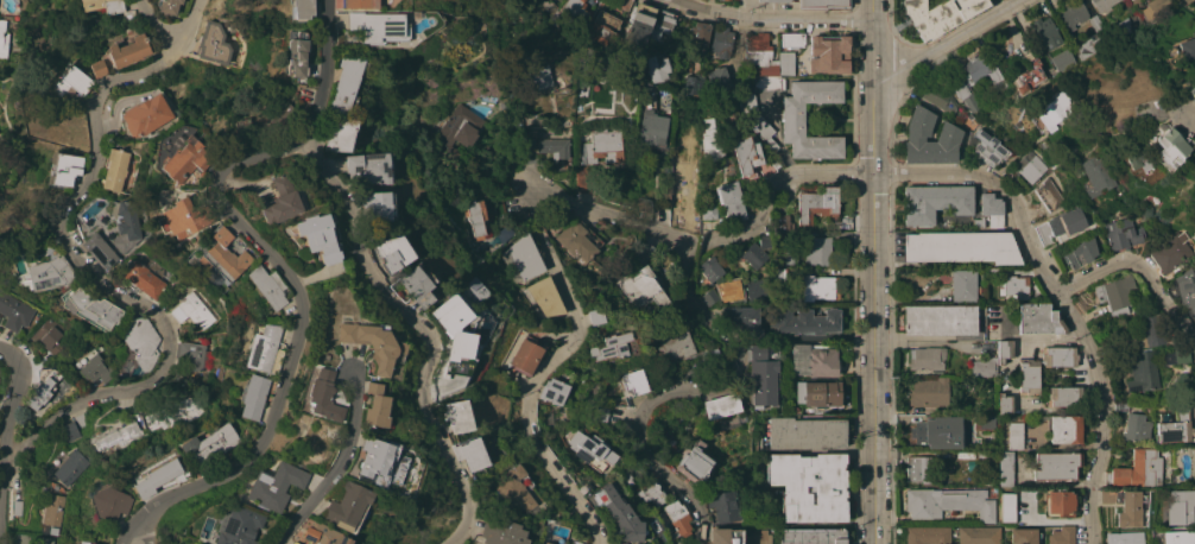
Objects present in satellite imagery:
building: (779, 0)
building: (1137, 1)
building: (1184, 1)
building: (359, 4)
building: (821, 4)
building: (103, 5)
building: (1104, 5)
road: (995, 6)
building: (169, 7)
building: (1156, 7)
building: (298, 10)
building: (574, 11)
building: (1073, 13)
building: (940, 14)
road: (771, 15)
building: (1096, 23)
building: (607, 24)
building: (639, 24)
road: (156, 25)
building: (375, 26)
building: (663, 27)
building: (1121, 29)
building: (1048, 32)
building: (4, 37)
building: (701, 37)
building: (792, 39)
building: (722, 40)
road: (946, 42)
building: (214, 43)
building: (1090, 45)
building: (128, 49)
building: (1187, 49)
building: (829, 53)
building: (296, 55)
building: (760, 55)
building: (1063, 62)
building: (785, 63)
building: (656, 67)
building: (99, 68)
building: (984, 70)
building: (537, 74)
building: (1030, 74)
building: (719, 80)
building: (70, 82)
building: (769, 82)
building: (343, 83)
building: (693, 83)
building: (646, 90)
building: (962, 90)
building: (1191, 90)
building: (941, 99)
building: (1143, 109)
building: (1050, 112)
building: (146, 115)
building: (755, 118)
building: (793, 119)
road: (1189, 122)
building: (263, 126)
building: (652, 131)
building: (456, 132)
building: (949, 133)
building: (337, 134)
building: (710, 139)
building: (601, 145)
building: (1168, 146)
building: (988, 147)
building: (555, 150)
building: (529, 156)
building: (751, 157)
building: (1132, 157)
building: (185, 159)
building: (368, 166)
building: (1029, 166)
building: (63, 167)
building: (115, 169)
building: (1094, 176)
building: (583, 178)
road: (776, 189)
building: (1048, 194)
building: (280, 201)
building: (731, 201)
building: (935, 202)
building: (519, 203)
building: (645, 203)
building: (378, 204)
building: (817, 204)
building: (992, 209)
building: (708, 210)
building: (182, 217)
building: (476, 217)
building: (782, 221)
building: (978, 222)
building: (125, 224)
building: (1060, 226)
building: (1123, 234)
building: (320, 236)
building: (578, 241)
building: (960, 247)
building: (99, 249)
building: (820, 249)
building: (643, 251)
building: (392, 252)
building: (1172, 252)
building: (1079, 254)
building: (223, 257)
building: (754, 257)
road: (273, 259)
building: (521, 259)
road: (81, 267)
road: (1139, 267)
building: (710, 270)
building: (992, 271)
road: (874, 272)
building: (48, 273)
building: (143, 279)
road: (569, 279)
building: (417, 284)
building: (963, 285)
building: (270, 286)
building: (820, 286)
building: (1016, 286)
building: (641, 287)
building: (729, 289)
building: (759, 290)
building: (1183, 291)
building: (1115, 295)
building: (545, 297)
building: (709, 297)
road: (1060, 298)
building: (94, 308)
building: (192, 310)
building: (14, 311)
building: (450, 312)
building: (595, 316)
building: (1038, 318)
building: (940, 320)
building: (804, 321)
building: (742, 322)
road: (422, 329)
building: (1151, 329)
building: (49, 335)
building: (372, 342)
road: (925, 342)
building: (674, 344)
building: (611, 346)
building: (138, 347)
building: (263, 347)
building: (1004, 350)
building: (191, 354)
building: (525, 355)
building: (1176, 355)
building: (1060, 356)
building: (712, 360)
building: (927, 360)
building: (813, 361)
building: (93, 366)
building: (984, 366)
building: (1142, 371)
building: (441, 372)
building: (763, 375)
building: (1028, 377)
building: (634, 381)
building: (43, 387)
road: (684, 388)
building: (554, 391)
building: (929, 391)
building: (322, 393)
building: (818, 393)
building: (252, 396)
building: (1064, 396)
building: (1004, 403)
building: (374, 405)
building: (1120, 405)
building: (721, 406)
building: (172, 413)
building: (457, 416)
road: (11, 418)
building: (81, 419)
building: (1137, 428)
building: (1174, 428)
building: (1064, 429)
building: (70, 431)
building: (118, 432)
building: (940, 432)
building: (804, 434)
building: (1014, 436)
building: (210, 447)
building: (590, 450)
building: (470, 453)
building: (373, 461)
building: (71, 466)
road: (334, 466)
building: (694, 466)
building: (1056, 466)
building: (921, 468)
building: (1005, 468)
building: (1139, 469)
building: (156, 477)
building: (626, 479)
building: (809, 485)
building: (273, 486)
building: (512, 488)
building: (651, 494)
building: (1108, 495)
building: (109, 502)
building: (948, 502)
building: (1060, 502)
building: (723, 505)
building: (346, 506)
building: (17, 507)
building: (1007, 507)
building: (1131, 507)
building: (1180, 507)
building: (52, 510)
building: (620, 513)
building: (677, 517)
building: (236, 526)
road: (128, 530)
road: (143, 530)
building: (499, 532)
building: (322, 534)
building: (928, 534)
building: (978, 534)
building: (1062, 534)
building: (813, 536)
building: (1023, 536)
building: (739, 537)
building: (1124, 537)
building: (1177, 537)
building: (21, 538)
building: (44, 540)
building: (83, 542)
building: (293, 543)
building: (544, 543)
building: (574, 543)
building: (627, 543)

